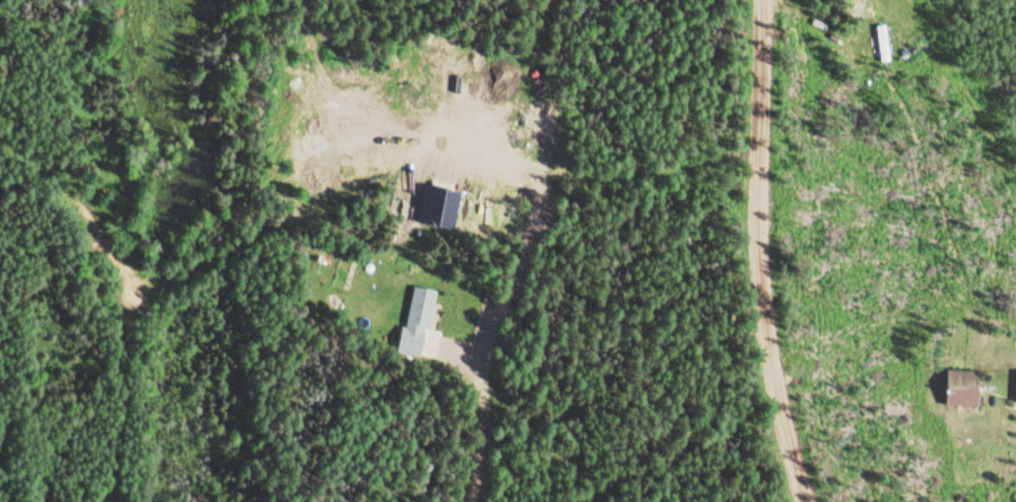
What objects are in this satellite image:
road: (757, 253)
building: (415, 322)
building: (958, 390)
building: (1015, 390)
road: (475, 398)
road: (1014, 496)

